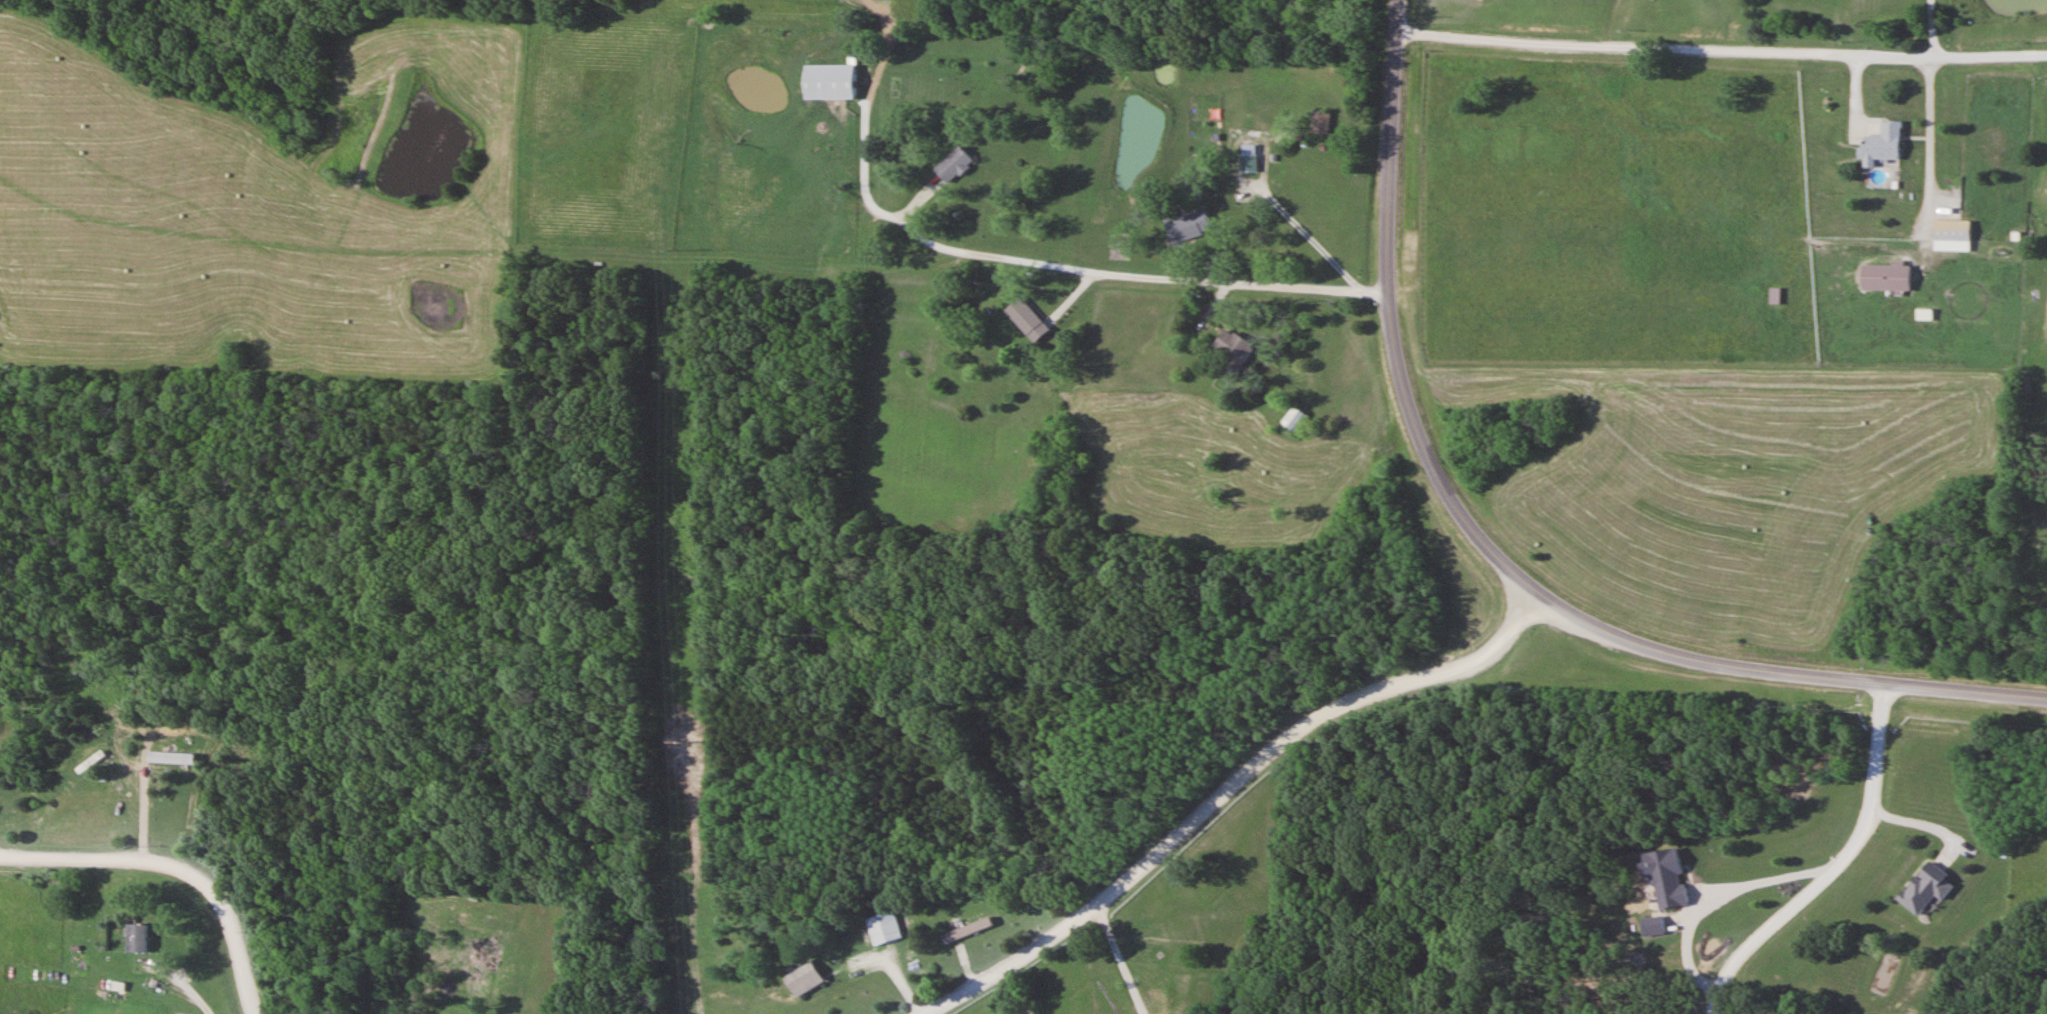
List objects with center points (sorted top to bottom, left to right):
road: (1933, 29)
road: (1722, 50)
building: (826, 82)
building: (1320, 122)
building: (1883, 144)
road: (1928, 144)
building: (1249, 158)
building: (953, 165)
building: (1188, 225)
building: (1952, 236)
road: (1332, 239)
power tower: (669, 246)
road: (1116, 259)
building: (1886, 277)
building: (877, 292)
building: (1028, 318)
road: (1390, 318)
building: (1232, 346)
building: (1293, 418)
road: (1782, 672)
power tower: (679, 742)
road: (1227, 789)
road: (177, 865)
road: (1835, 866)
road: (1760, 877)
building: (1669, 878)
building: (1926, 887)
building: (1654, 926)
building: (884, 927)
building: (138, 936)
road: (1128, 958)
building: (806, 979)

